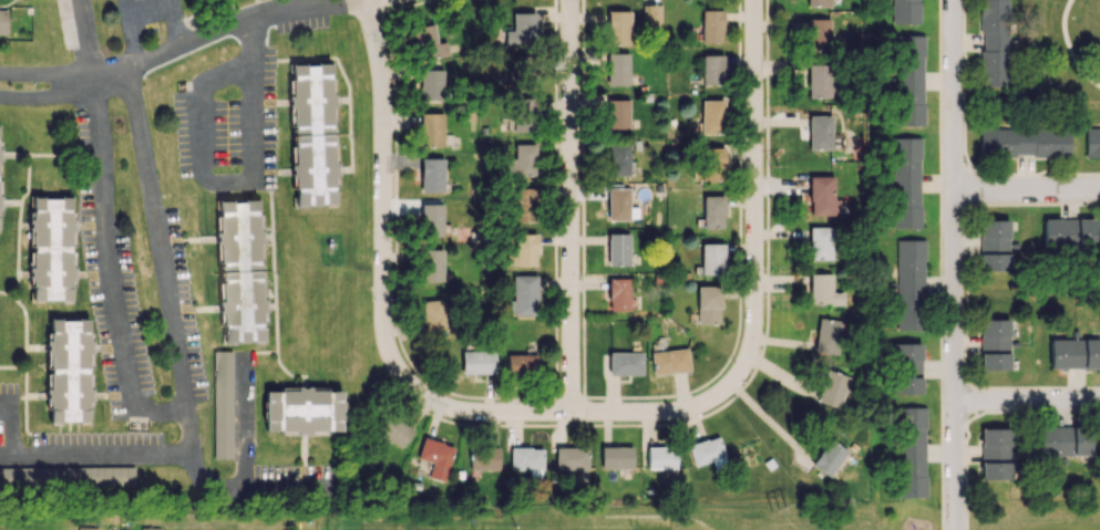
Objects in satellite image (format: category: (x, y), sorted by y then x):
building: (818, 2)
road: (257, 7)
road: (142, 9)
road: (230, 11)
building: (904, 11)
parking lot: (147, 13)
building: (652, 14)
building: (3, 21)
road: (192, 21)
road: (175, 22)
parking lot: (66, 23)
parking lot: (302, 23)
building: (710, 25)
building: (617, 27)
building: (518, 30)
road: (205, 33)
building: (818, 34)
road: (83, 37)
road: (132, 38)
building: (426, 43)
building: (993, 43)
road: (1069, 49)
road: (339, 66)
building: (617, 69)
building: (711, 69)
road: (38, 72)
building: (525, 76)
building: (819, 80)
building: (908, 80)
building: (430, 84)
road: (39, 92)
building: (310, 98)
road: (343, 98)
road: (249, 101)
road: (280, 101)
building: (521, 114)
building: (617, 114)
building: (710, 116)
parking lot: (227, 121)
road: (202, 125)
building: (431, 129)
building: (820, 132)
road: (757, 136)
building: (1024, 142)
building: (1092, 142)
road: (349, 155)
building: (617, 158)
building: (520, 162)
power tower: (782, 162)
building: (711, 164)
building: (312, 169)
road: (284, 170)
building: (431, 175)
building: (905, 181)
road: (1028, 191)
building: (821, 196)
building: (617, 204)
building: (522, 205)
road: (572, 208)
building: (711, 211)
building: (430, 220)
road: (270, 229)
building: (1068, 233)
building: (238, 235)
road: (263, 236)
road: (269, 236)
building: (819, 242)
building: (993, 245)
building: (522, 249)
building: (618, 249)
building: (50, 250)
road: (381, 253)
building: (711, 259)
road: (161, 260)
road: (107, 264)
building: (431, 264)
road: (940, 264)
road: (955, 264)
building: (909, 284)
building: (822, 290)
parking lot: (110, 291)
building: (618, 294)
building: (522, 295)
parking lot: (185, 302)
road: (273, 304)
building: (707, 304)
building: (240, 306)
building: (433, 315)
road: (275, 334)
building: (825, 335)
building: (994, 344)
road: (258, 351)
building: (1075, 353)
building: (669, 361)
building: (476, 362)
building: (520, 363)
building: (625, 363)
building: (906, 368)
building: (68, 372)
road: (302, 385)
building: (831, 388)
building: (223, 404)
road: (1027, 405)
building: (301, 409)
road: (688, 409)
road: (241, 419)
parking lot: (9, 424)
road: (8, 427)
building: (393, 430)
road: (302, 435)
parking lot: (96, 436)
building: (1063, 440)
road: (302, 450)
building: (705, 450)
building: (911, 451)
building: (995, 454)
road: (185, 455)
building: (435, 457)
building: (616, 457)
building: (660, 457)
building: (483, 458)
building: (826, 458)
building: (526, 460)
building: (572, 460)
parking lot: (301, 468)
building: (66, 475)
power tower: (784, 511)
building: (86, 528)
building: (150, 528)

